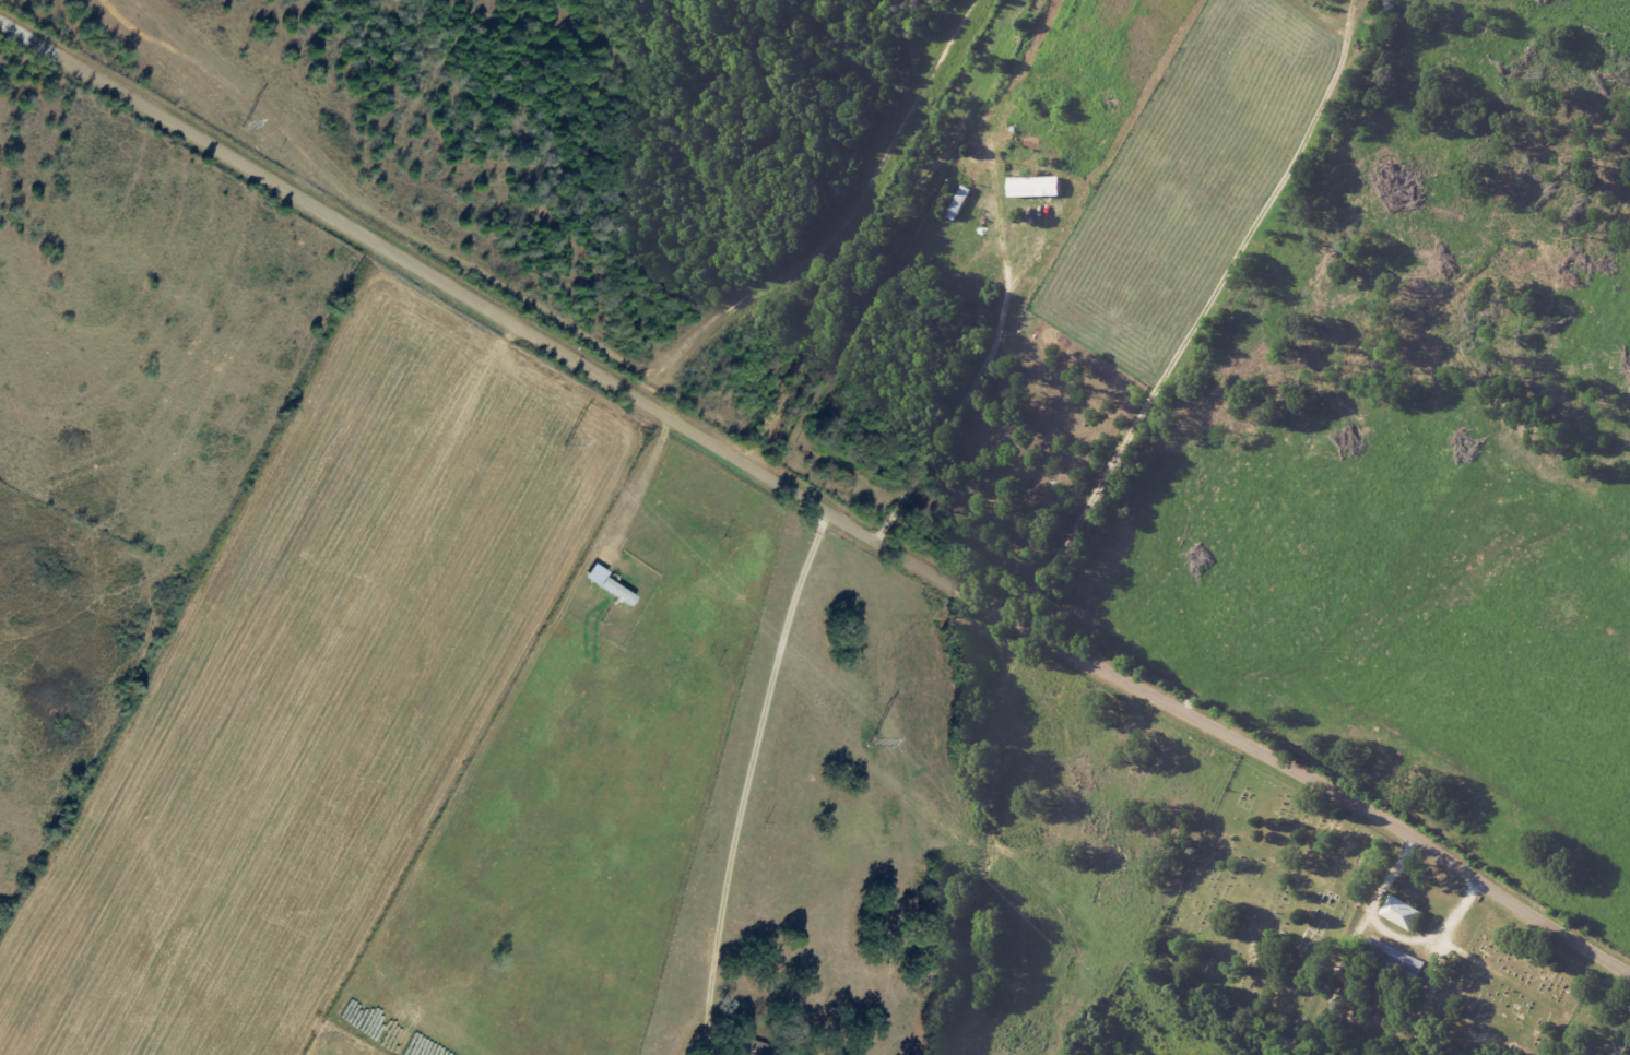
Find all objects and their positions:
power tower: (249, 125)
building: (1036, 186)
road: (1197, 319)
road: (966, 407)
power tower: (569, 439)
road: (812, 503)
building: (618, 590)
power tower: (874, 743)
road: (747, 779)
building: (1403, 912)
park: (1333, 929)
road: (1391, 936)
building: (1391, 961)
road: (1359, 1023)
building: (755, 1047)

